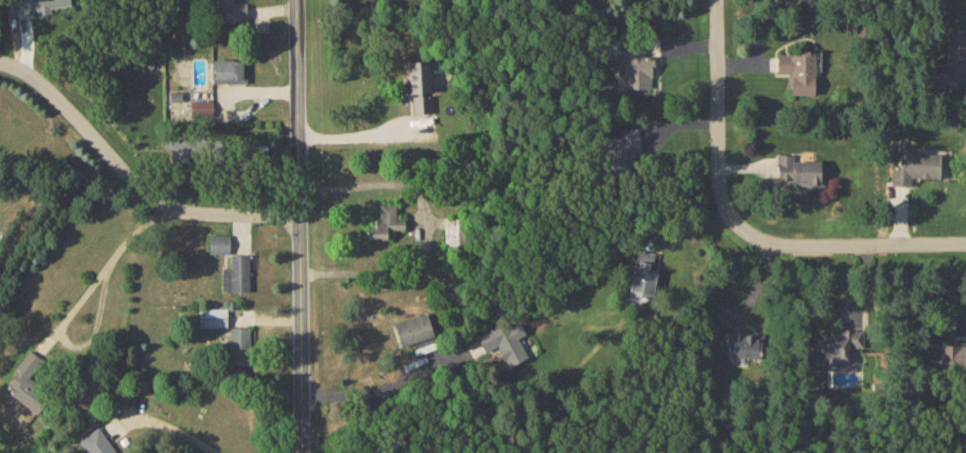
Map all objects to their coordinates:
building: (804, 0)
building: (40, 4)
building: (227, 11)
building: (953, 63)
building: (634, 64)
building: (228, 70)
building: (797, 71)
building: (418, 76)
building: (421, 103)
building: (201, 107)
building: (180, 151)
building: (622, 151)
building: (916, 165)
building: (799, 170)
road: (133, 180)
building: (385, 223)
road: (301, 226)
road: (738, 226)
building: (453, 233)
building: (218, 243)
road: (102, 266)
building: (236, 273)
building: (643, 274)
building: (212, 317)
building: (413, 328)
building: (505, 341)
building: (742, 341)
building: (241, 345)
building: (840, 347)
building: (952, 354)
building: (28, 382)
road: (177, 423)
building: (96, 442)

